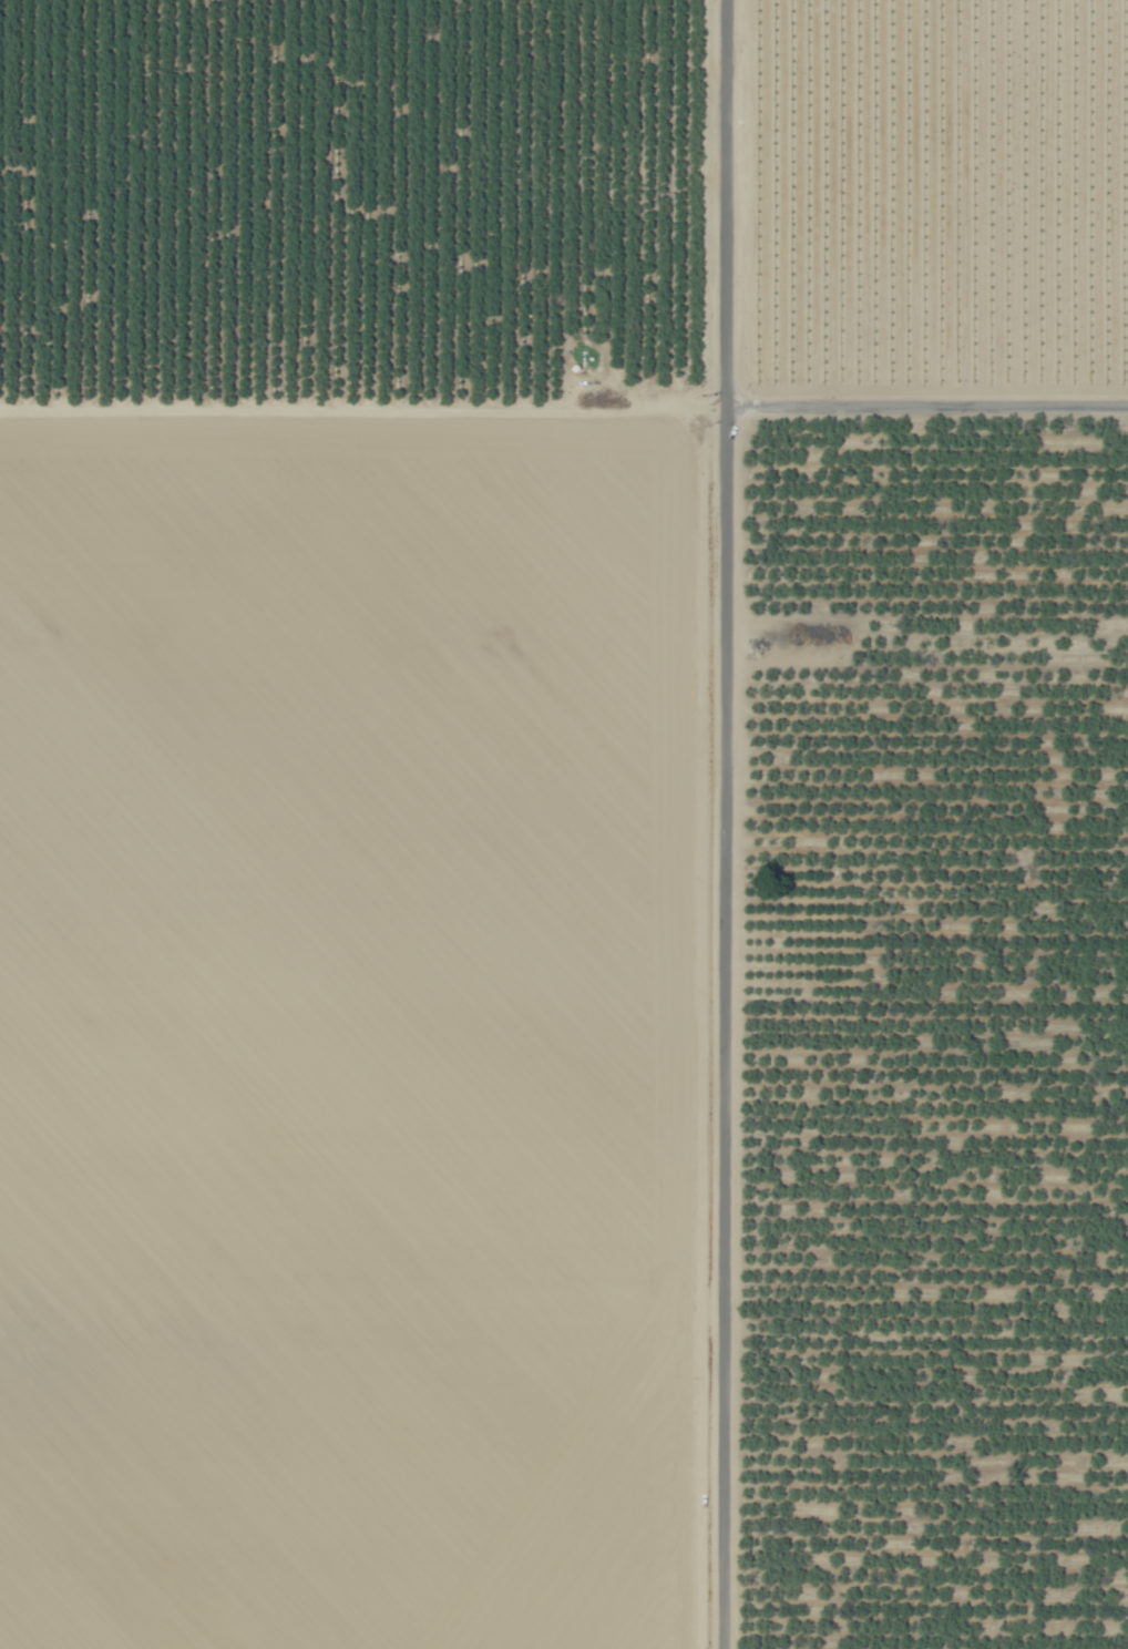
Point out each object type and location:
road: (363, 407)
road: (927, 407)
crop: (356, 823)
road: (726, 823)
crop: (936, 1038)

